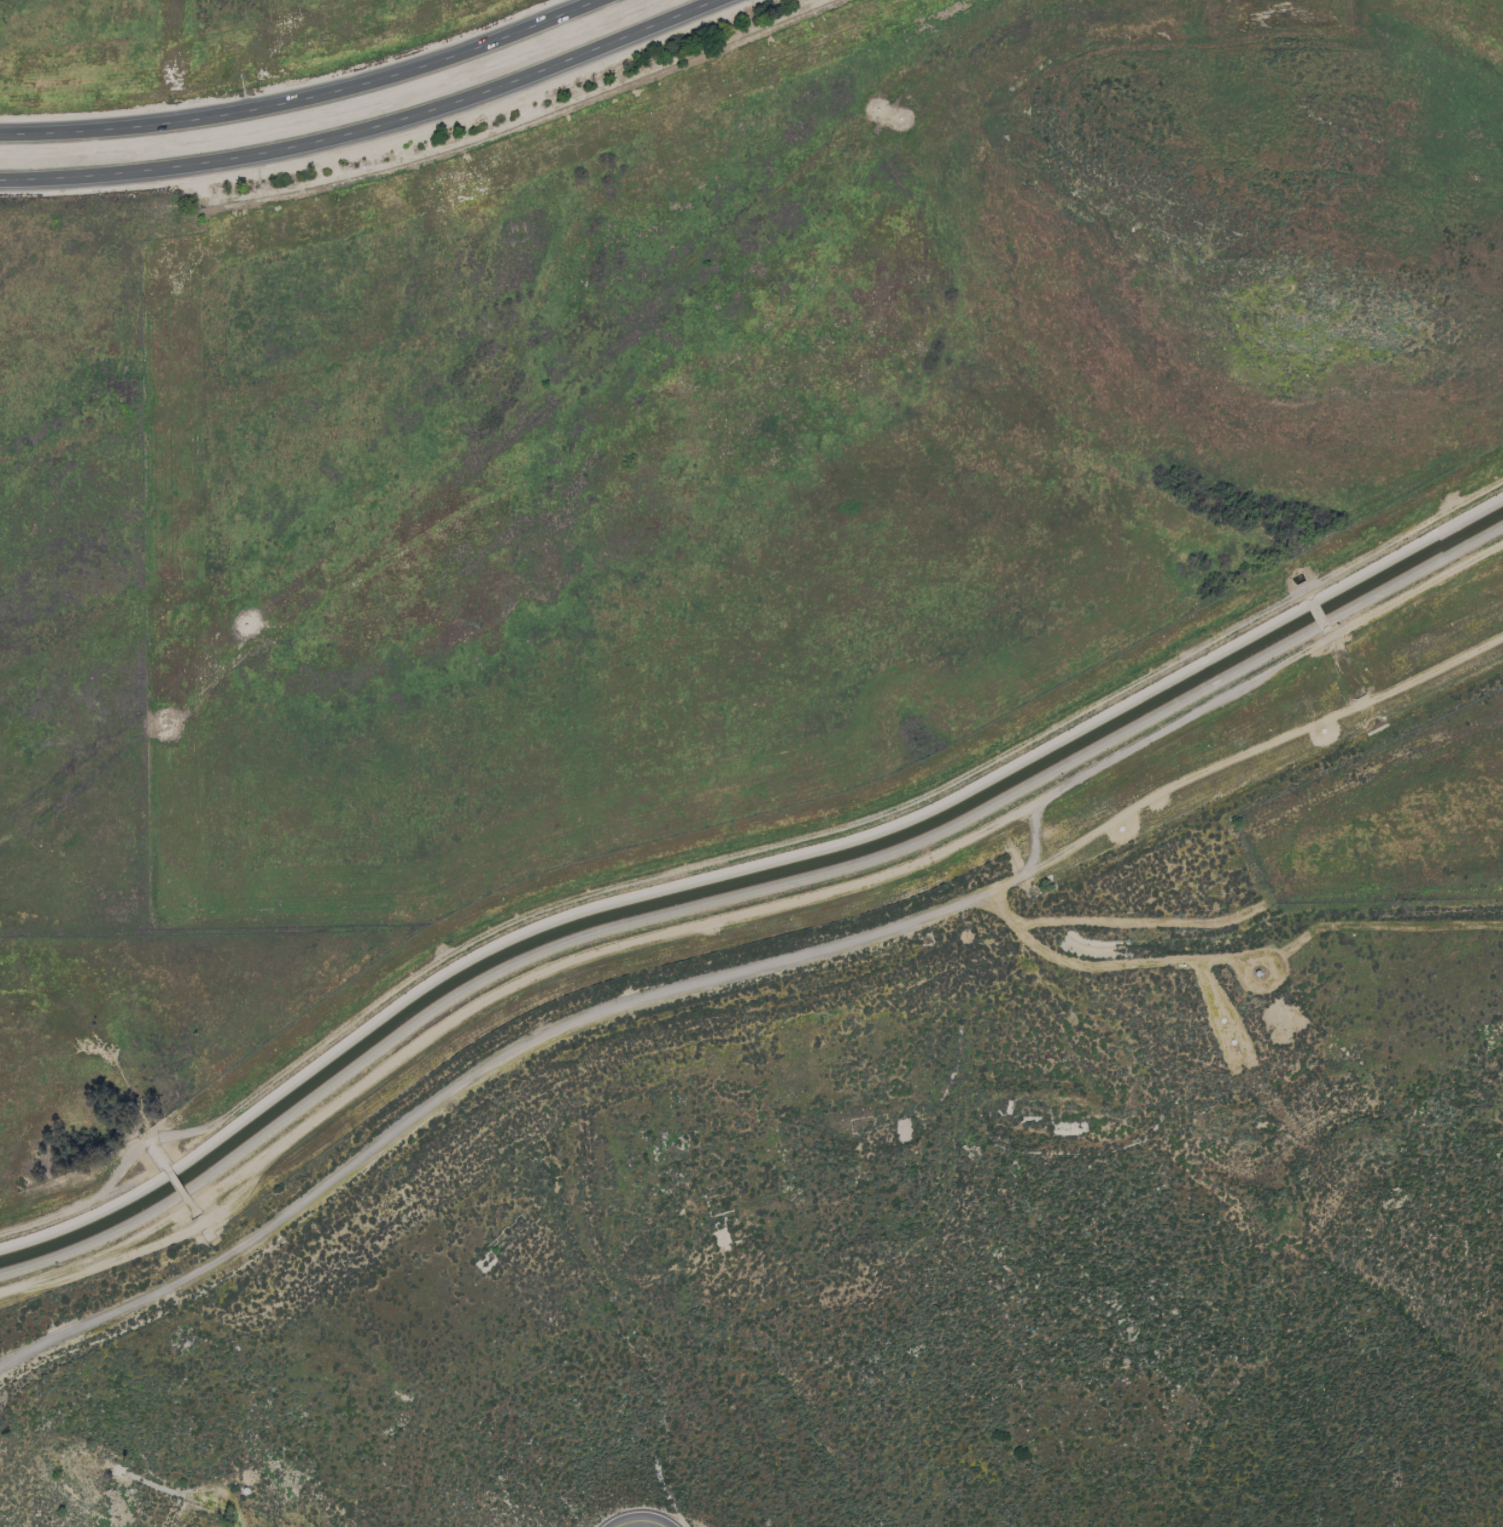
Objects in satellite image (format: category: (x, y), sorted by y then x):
road: (305, 98)
road: (368, 128)
road: (1315, 613)
road: (1456, 660)
road: (1180, 718)
road: (1216, 767)
road: (624, 942)
road: (1158, 959)
road: (488, 1061)
road: (175, 1183)
road: (234, 1196)
road: (637, 1523)

